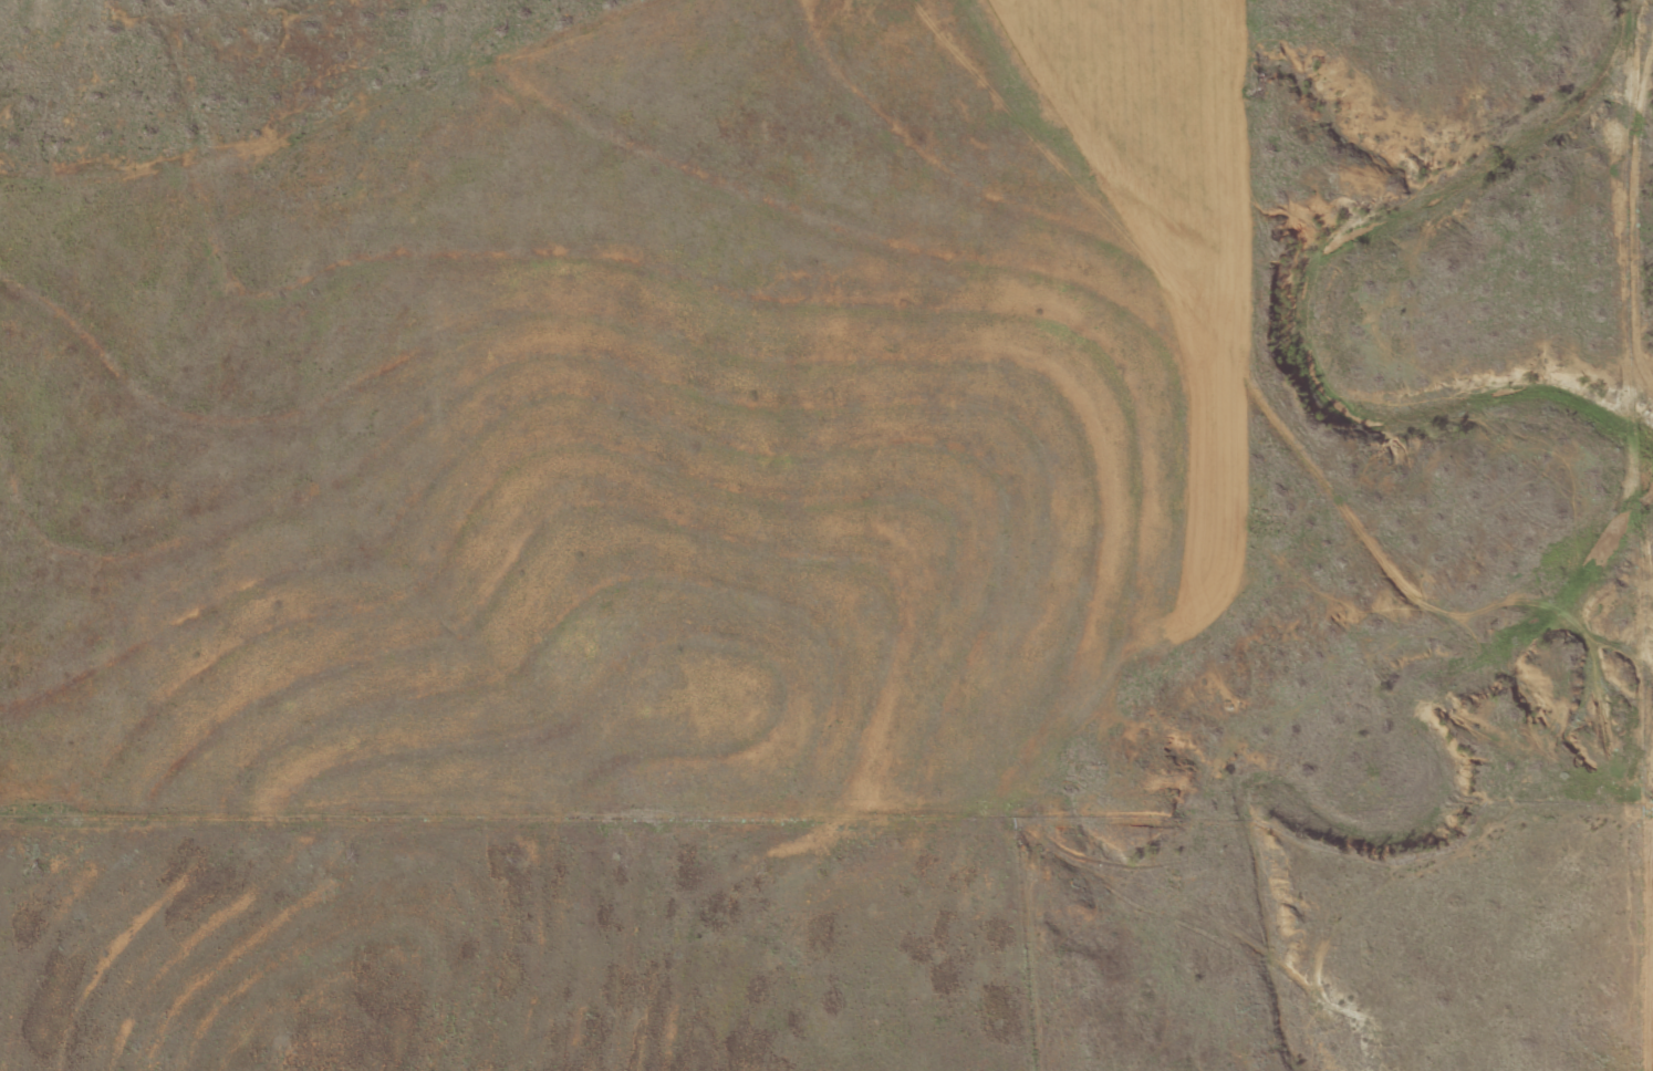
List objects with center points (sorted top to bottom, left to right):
road: (1304, 507)

